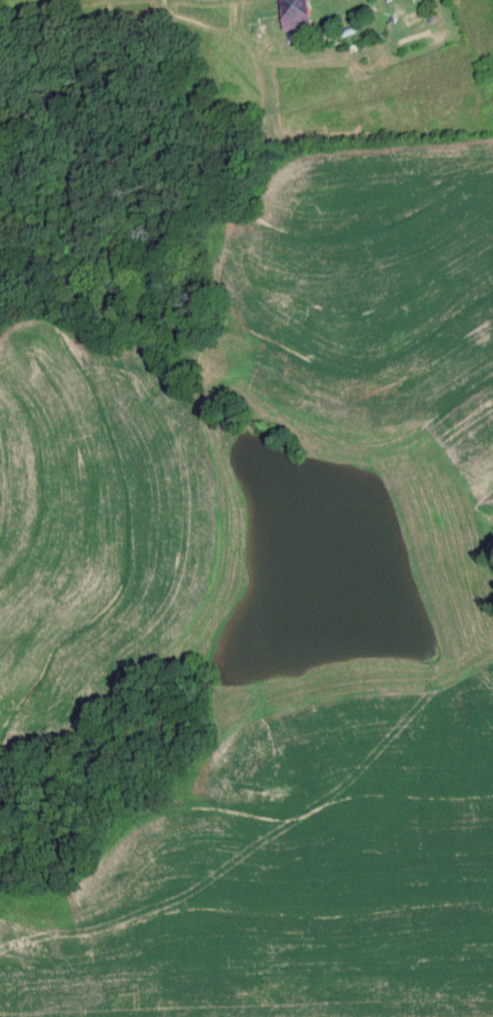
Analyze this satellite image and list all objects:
building: (296, 15)

